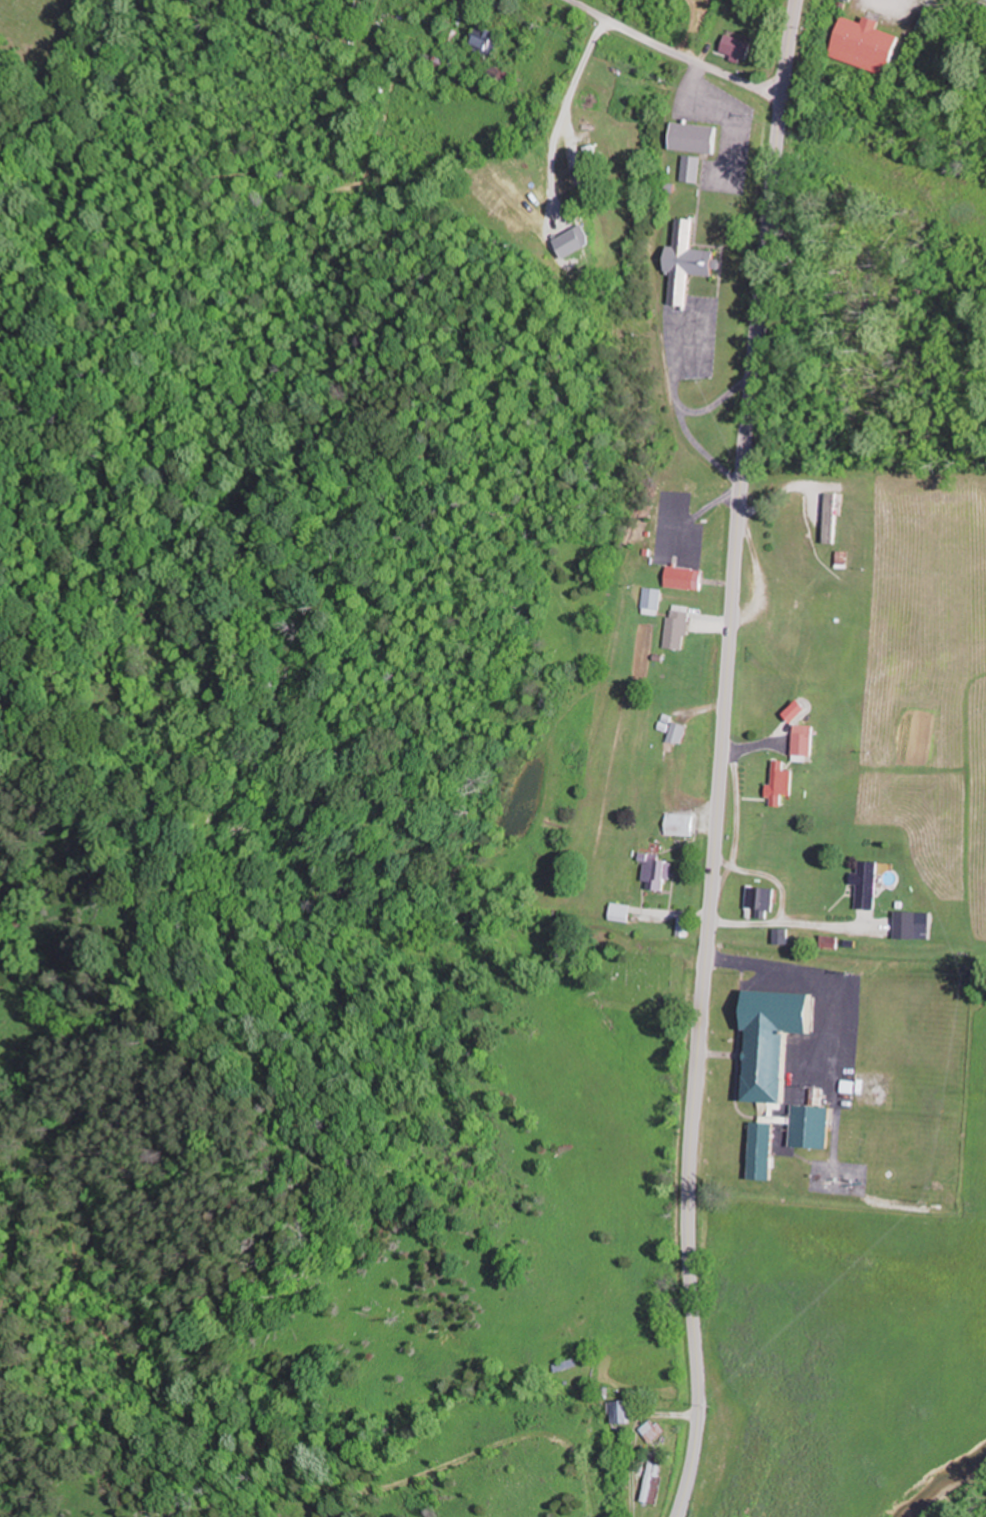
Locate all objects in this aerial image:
building: (850, 0)
building: (844, 1)
building: (487, 41)
building: (861, 42)
building: (742, 46)
road: (673, 52)
building: (442, 66)
building: (502, 72)
building: (698, 136)
building: (694, 167)
building: (518, 191)
building: (581, 252)
building: (691, 260)
building: (830, 516)
building: (689, 577)
building: (654, 600)
building: (680, 626)
building: (804, 740)
building: (677, 745)
road: (720, 758)
building: (782, 782)
building: (683, 823)
building: (659, 872)
building: (869, 884)
building: (764, 897)
building: (623, 911)
building: (908, 924)
building: (686, 926)
building: (779, 1043)
building: (766, 1146)
building: (569, 1365)
building: (623, 1412)
building: (656, 1430)
building: (653, 1481)

